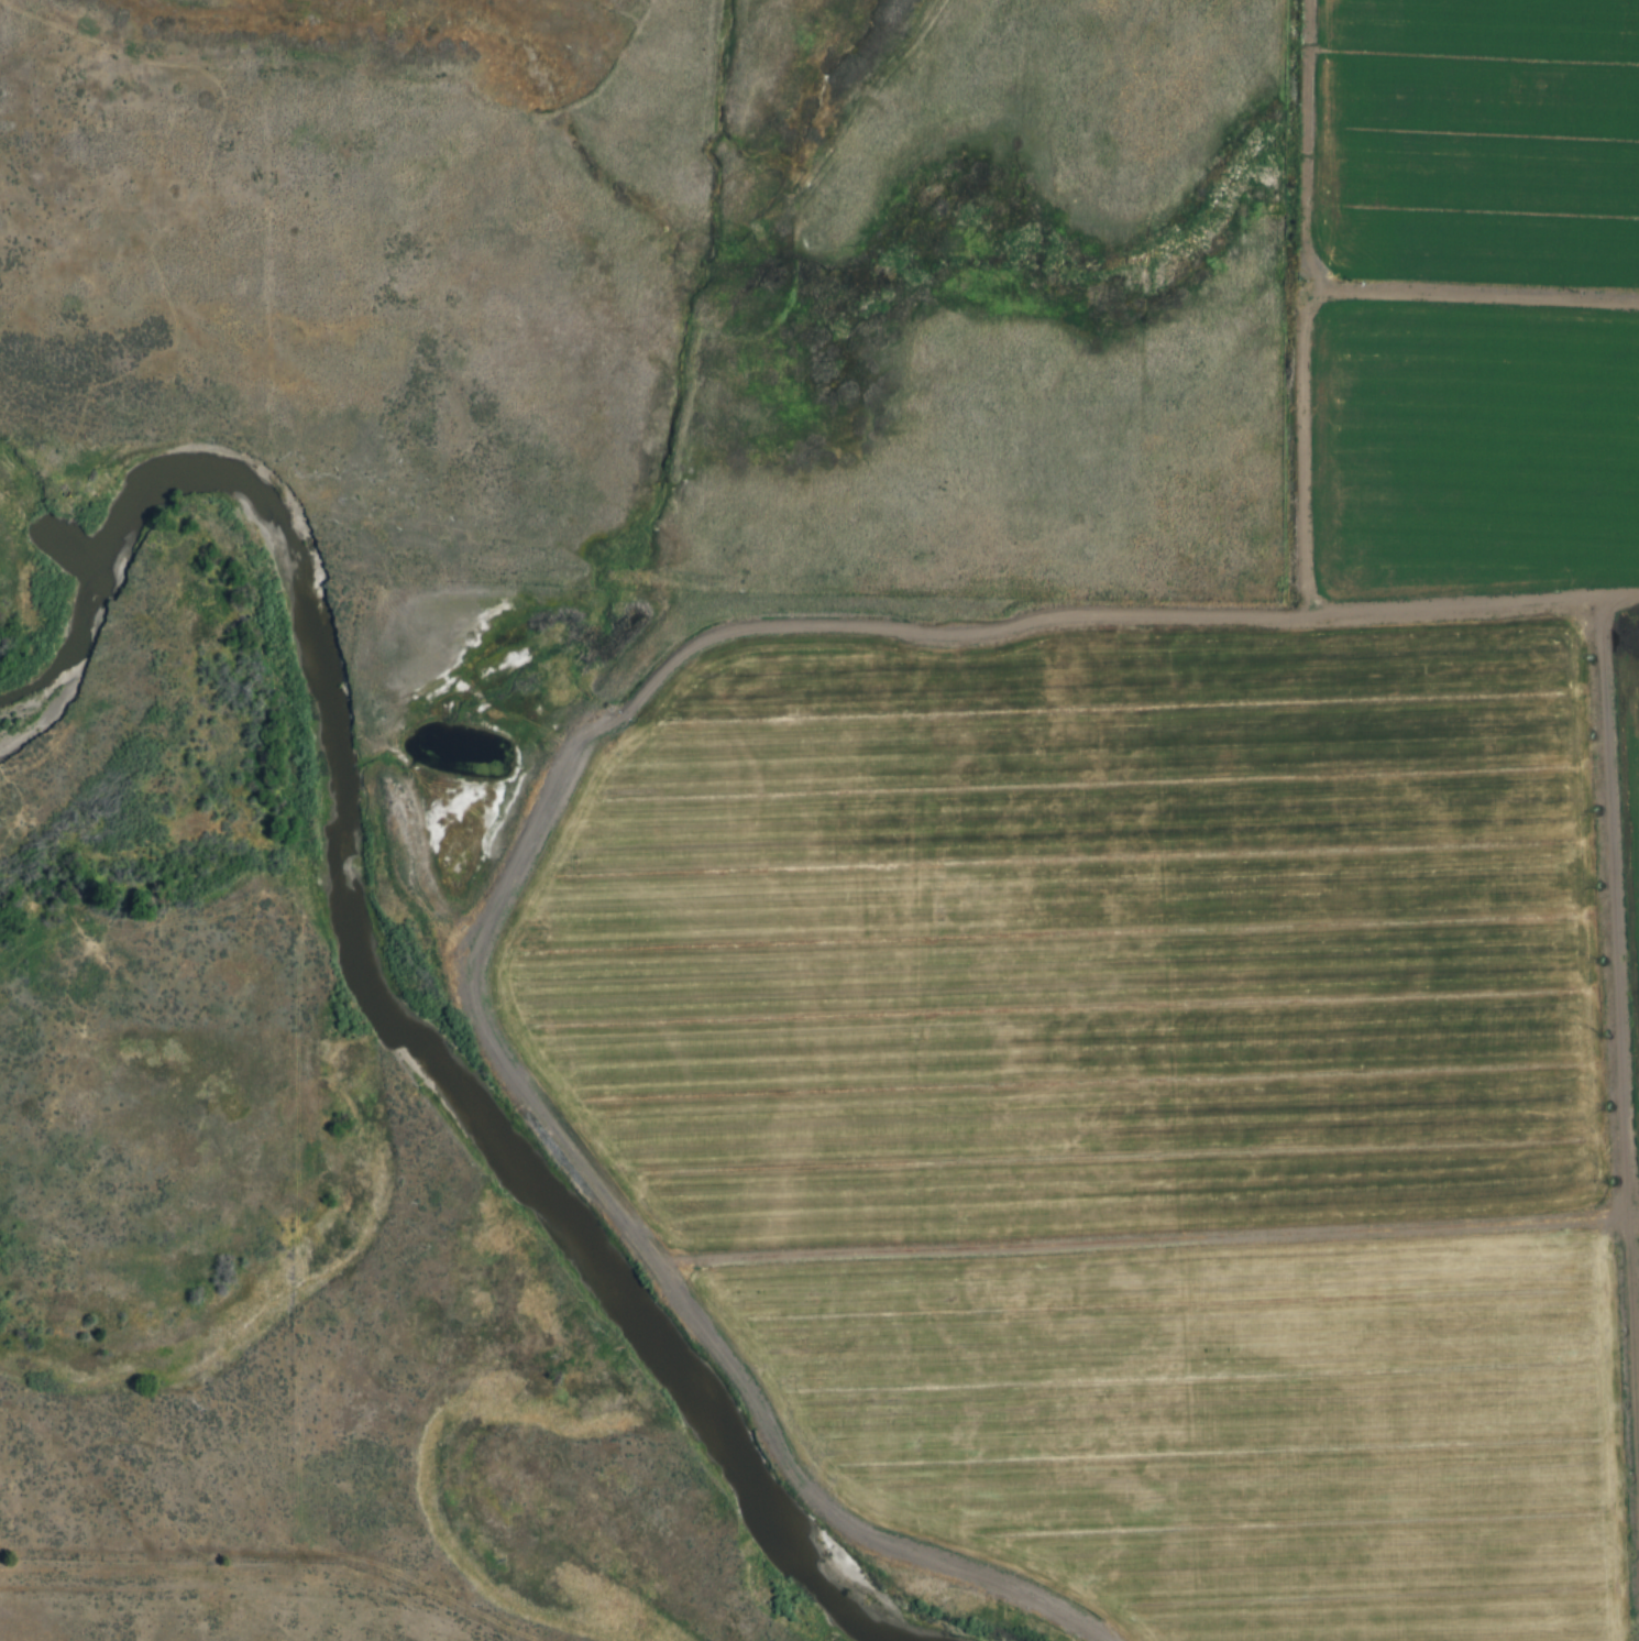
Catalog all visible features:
road: (263, 58)
crop: (1486, 143)
road: (521, 178)
crop: (1481, 446)
road: (1113, 617)
crop: (1635, 705)
river: (407, 967)
crop: (1146, 1103)

